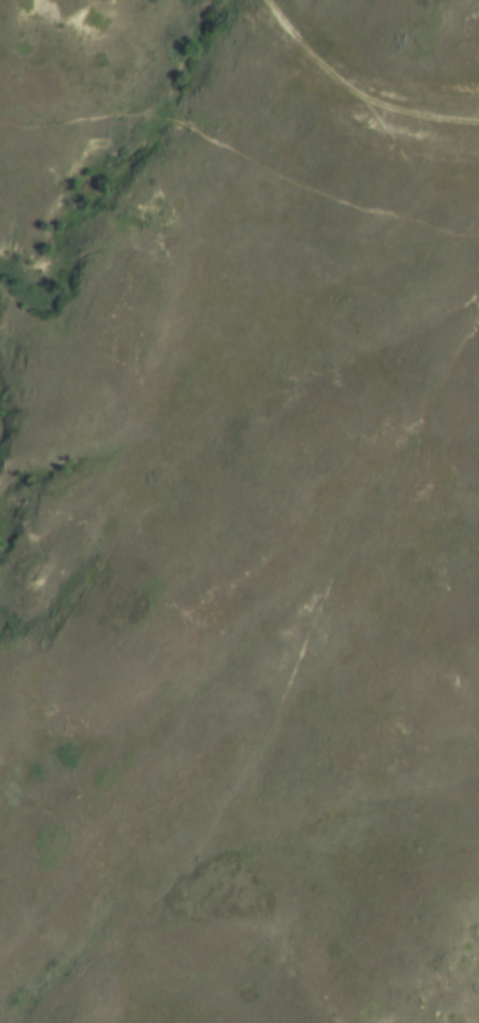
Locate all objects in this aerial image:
road: (358, 85)

